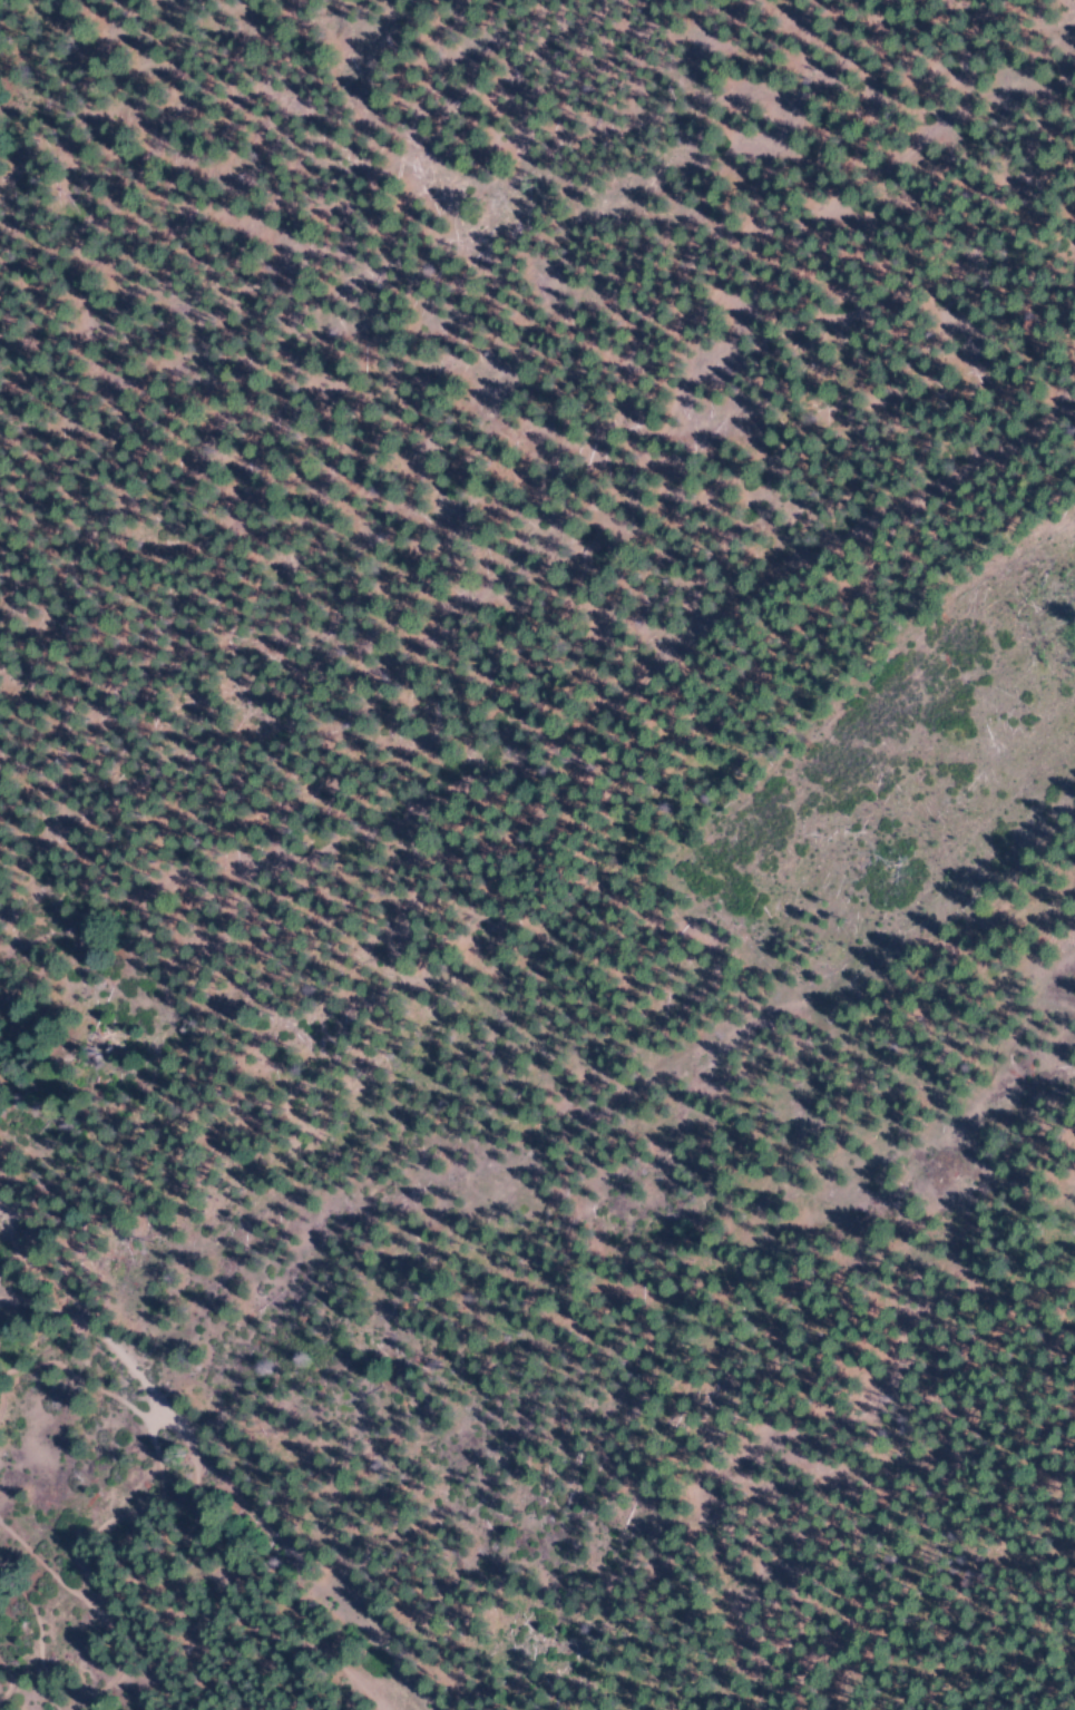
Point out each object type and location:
road: (48, 1310)
road: (222, 1465)

